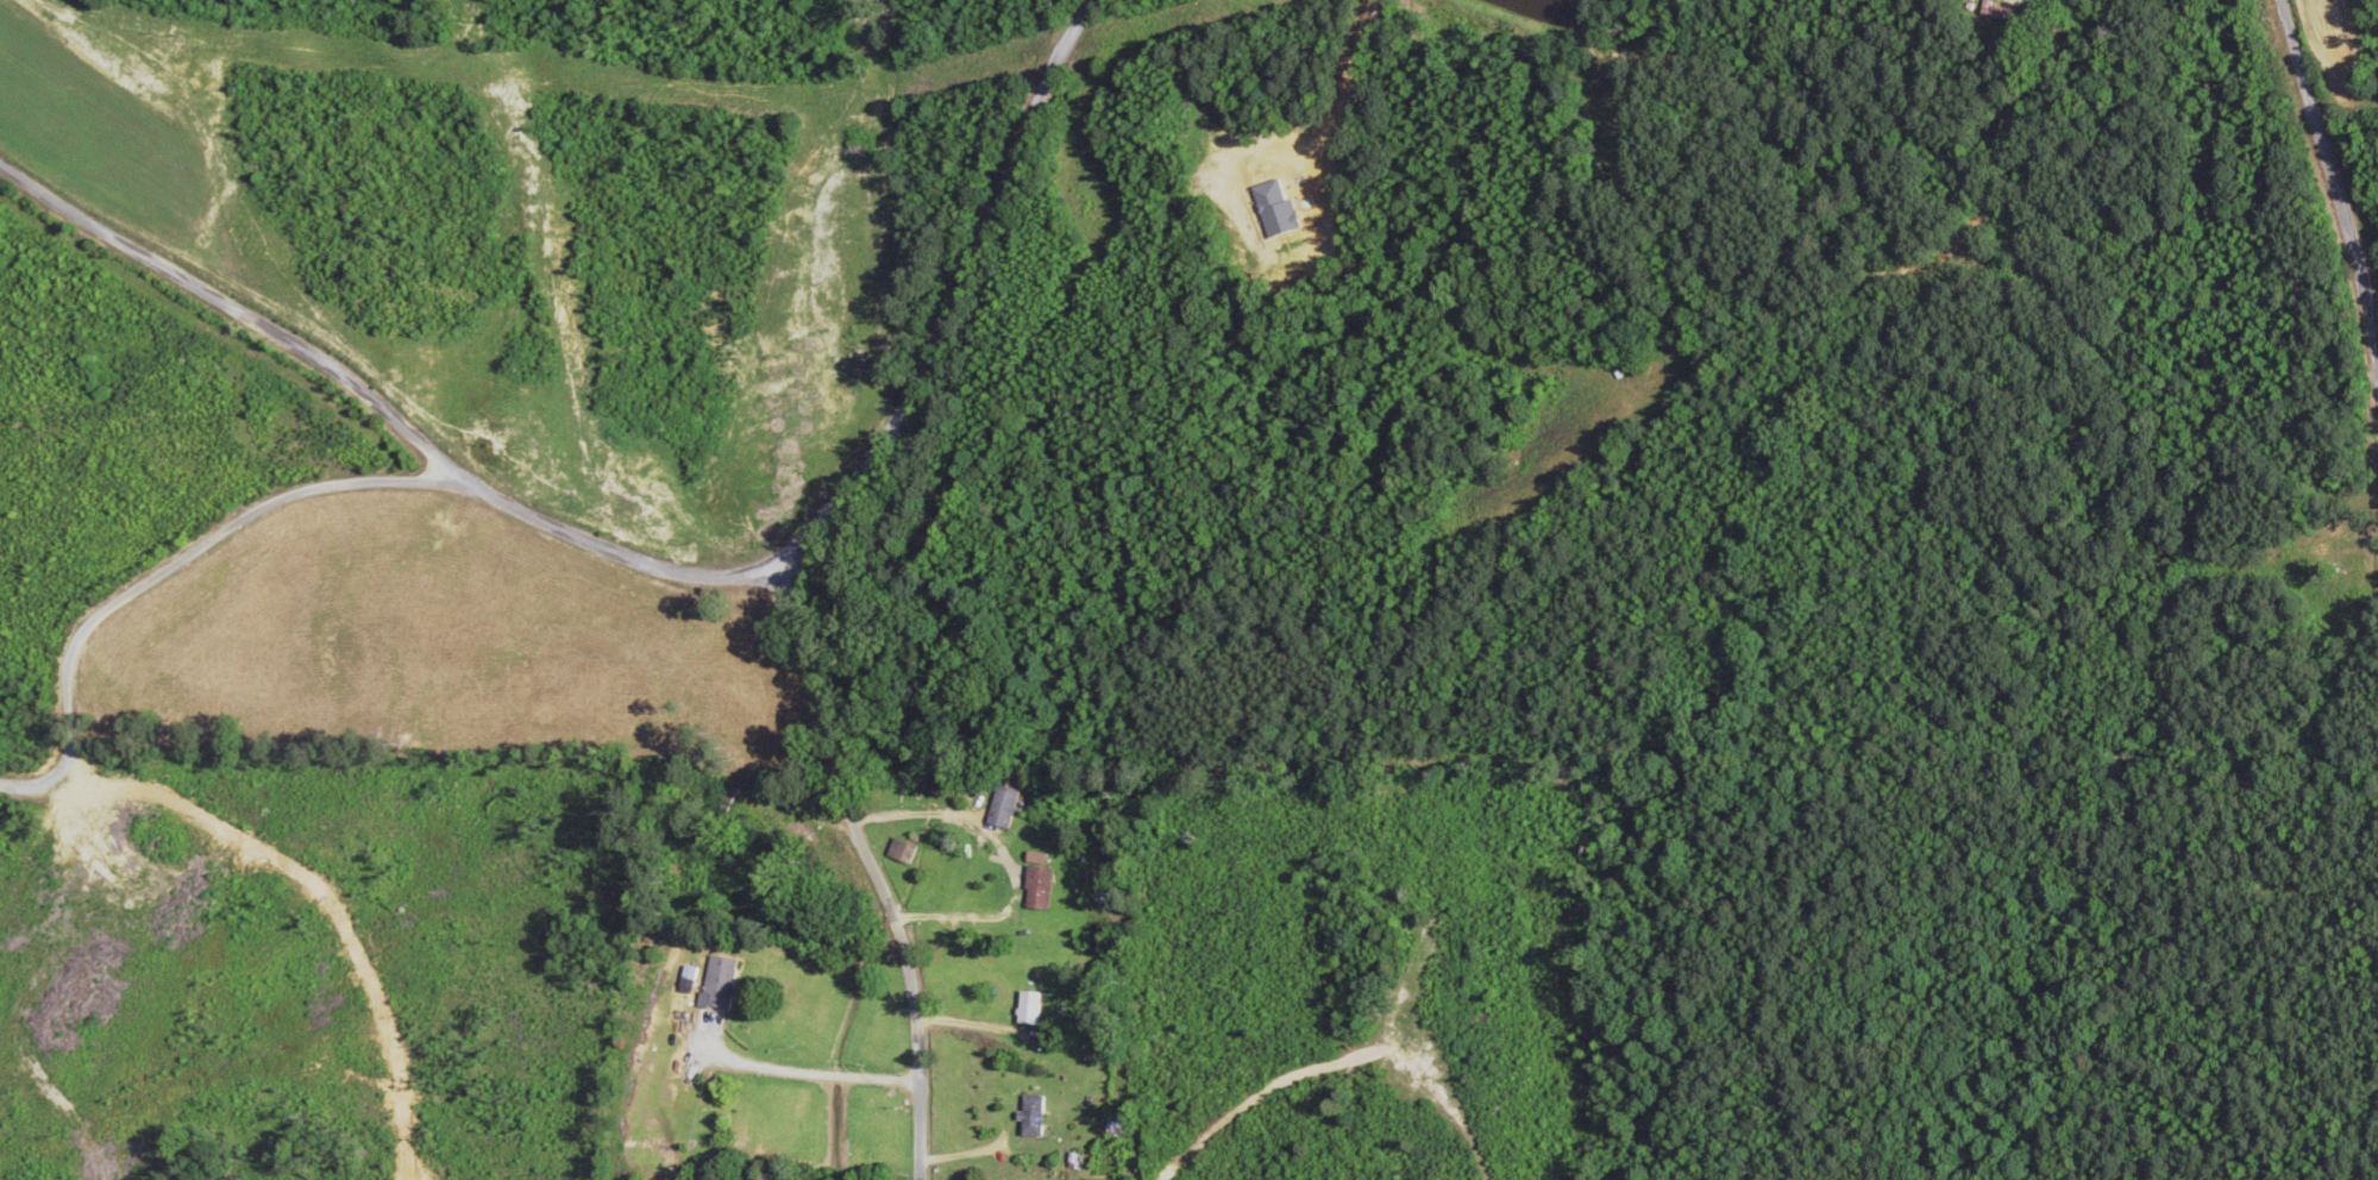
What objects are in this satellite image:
building: (1994, 11)
road: (2329, 180)
road: (952, 295)
road: (228, 331)
road: (330, 487)
building: (999, 808)
building: (899, 852)
road: (868, 880)
building: (1035, 884)
building: (715, 983)
building: (1025, 1008)
building: (1029, 1117)

